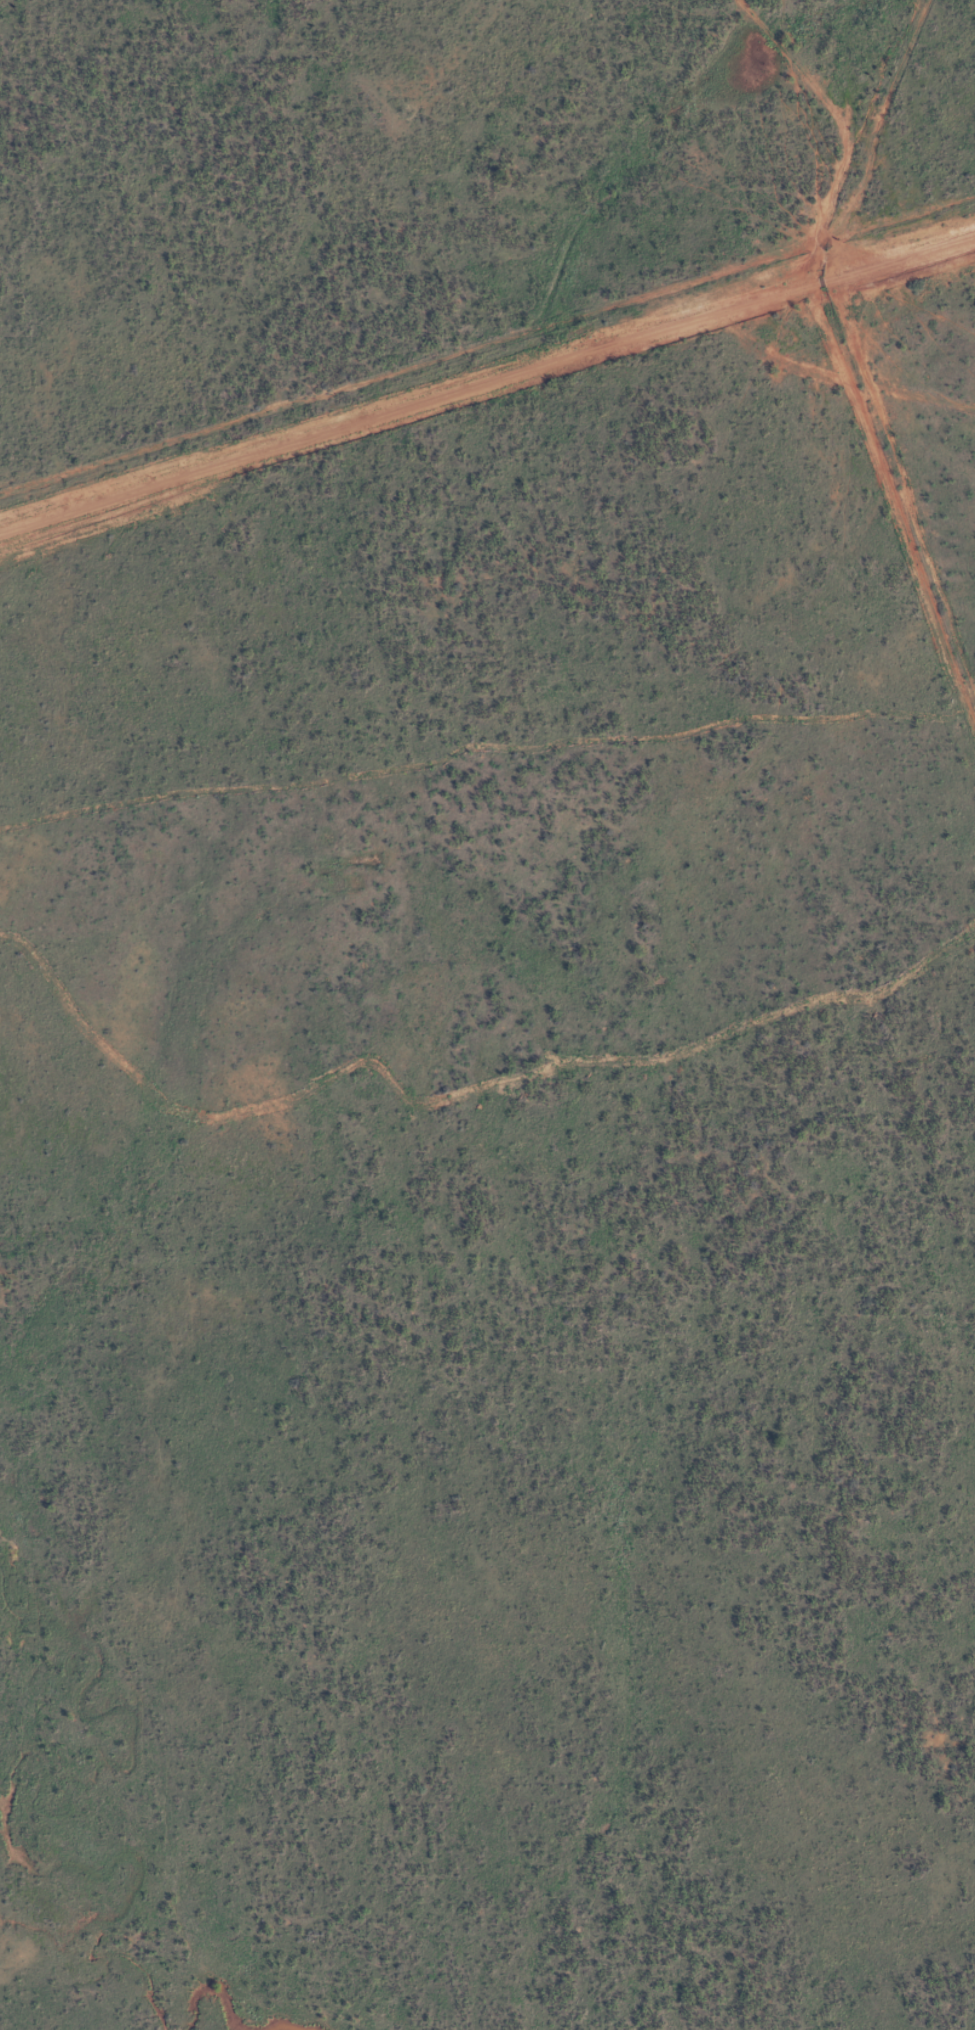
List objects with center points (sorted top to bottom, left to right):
road: (845, 117)
road: (968, 271)
road: (490, 396)

